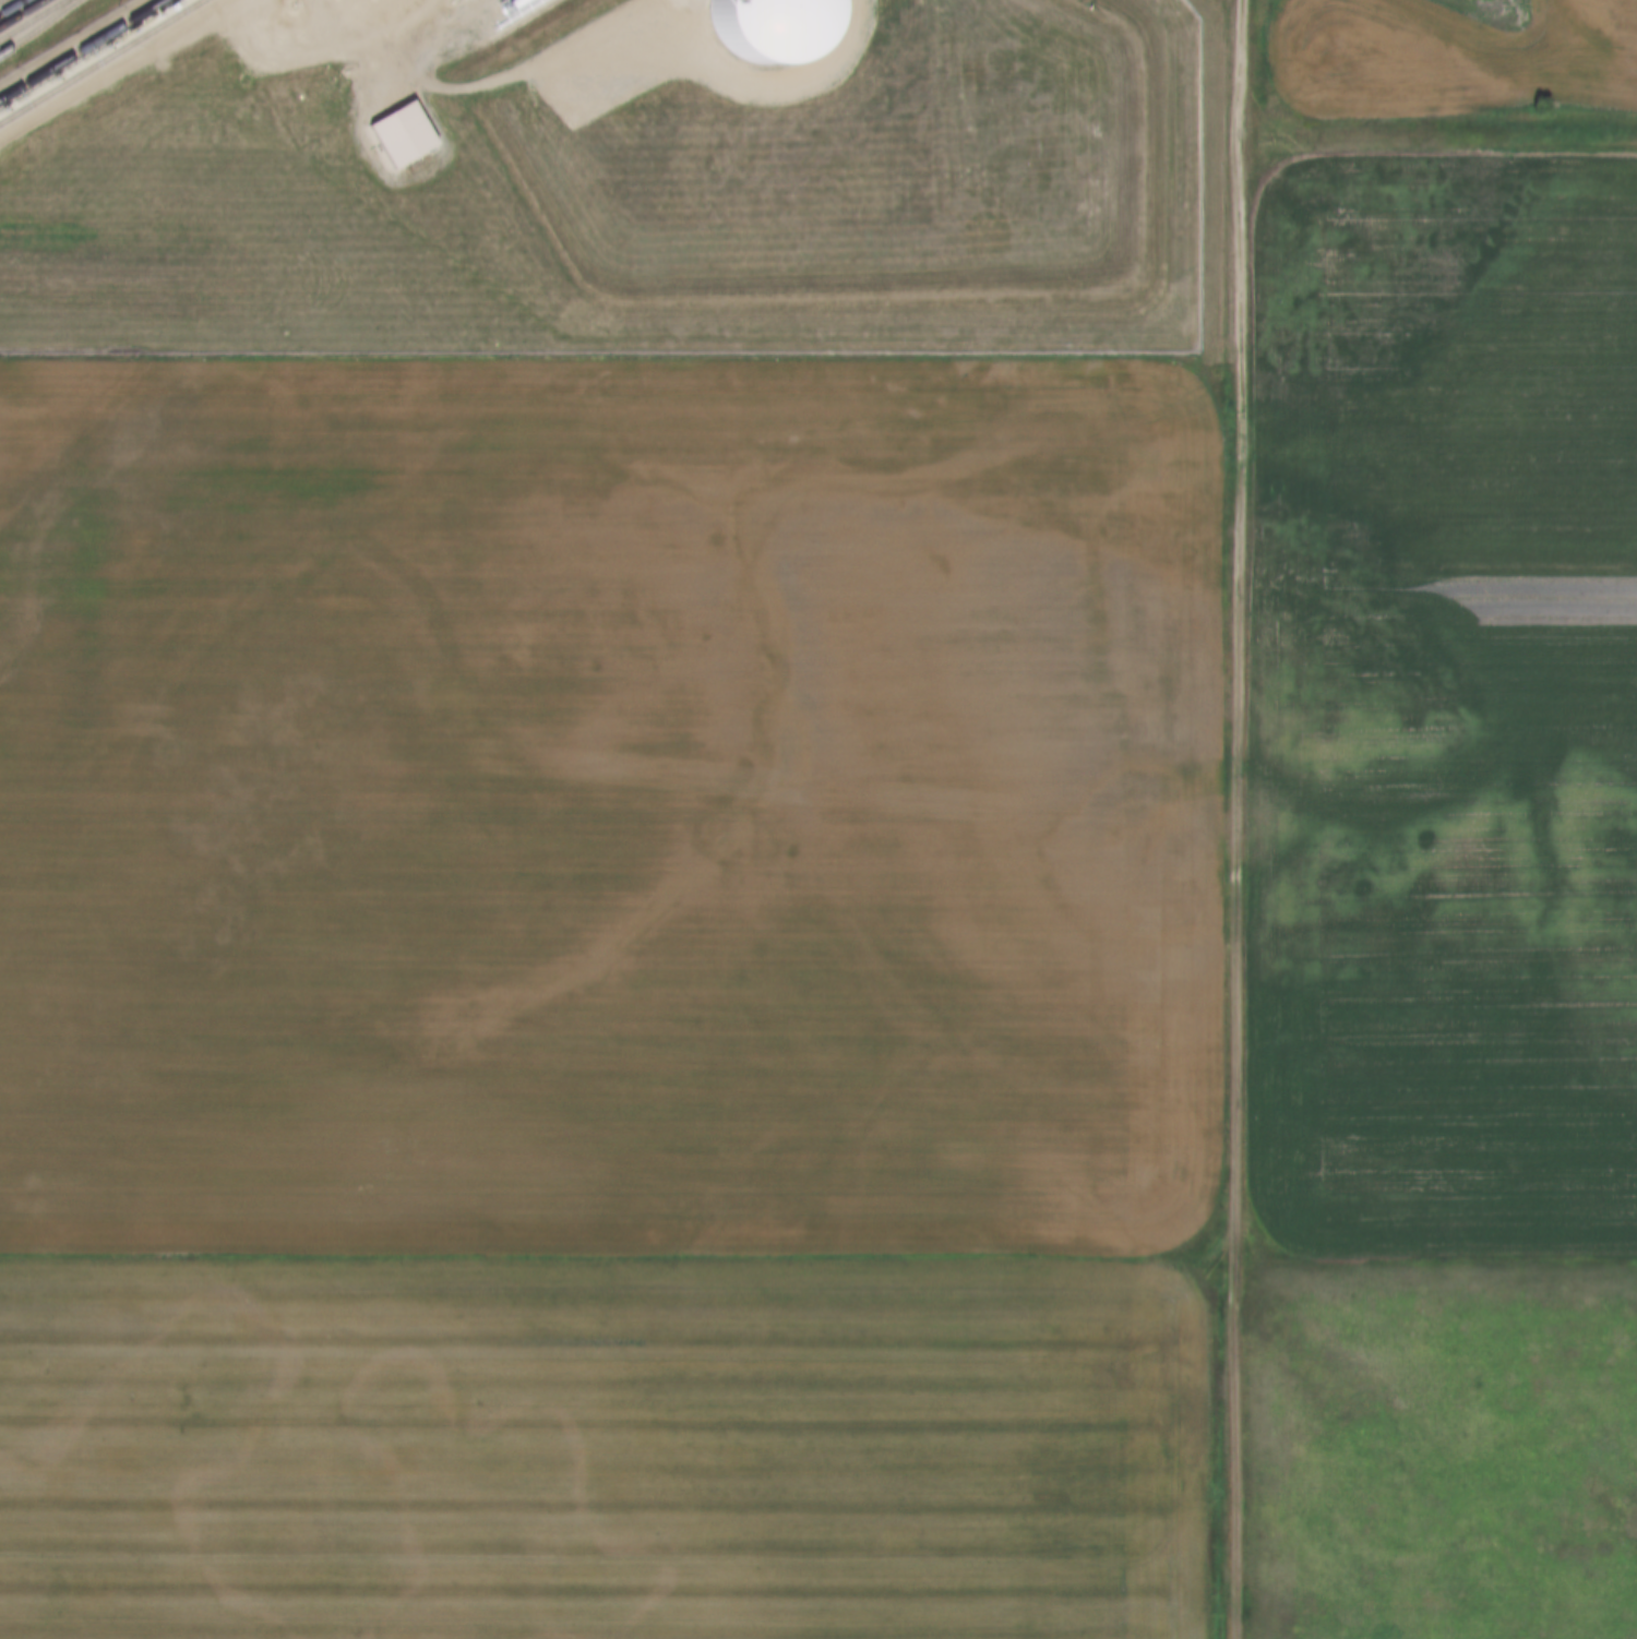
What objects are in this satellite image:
road: (0, 0)
railway: (21, 12)
railway: (34, 20)
railway: (38, 26)
building: (762, 27)
silo: (762, 27)
railway: (81, 49)
railway: (101, 61)
road: (115, 69)
road: (1239, 820)

